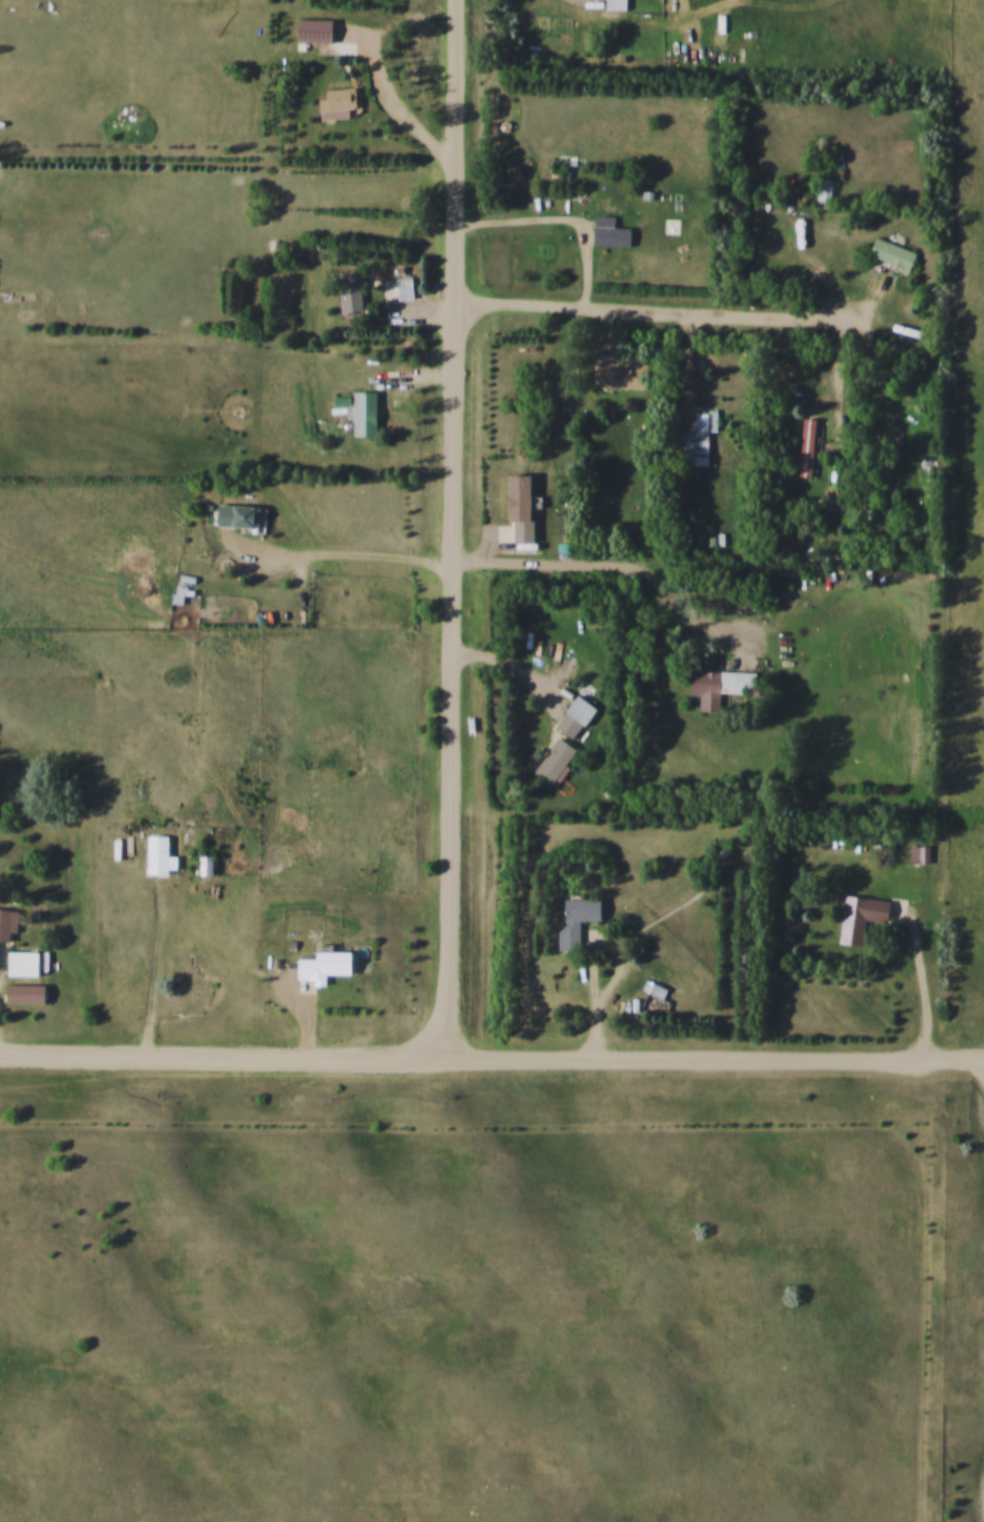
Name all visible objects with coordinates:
building: (614, 4)
building: (312, 31)
building: (335, 104)
road: (404, 105)
building: (824, 191)
building: (608, 232)
building: (890, 253)
building: (403, 287)
building: (348, 296)
road: (424, 305)
road: (666, 308)
building: (619, 374)
building: (363, 414)
building: (695, 440)
building: (808, 447)
building: (867, 494)
building: (516, 510)
building: (236, 517)
building: (908, 525)
road: (456, 530)
road: (352, 550)
road: (558, 565)
road: (513, 665)
building: (718, 686)
building: (579, 710)
building: (554, 762)
building: (917, 854)
building: (157, 857)
building: (859, 917)
building: (574, 921)
building: (10, 923)
building: (27, 963)
building: (323, 965)
road: (928, 977)
road: (157, 980)
building: (655, 991)
road: (613, 992)
building: (29, 993)
road: (979, 1052)
road: (979, 1056)
road: (487, 1059)
road: (979, 1063)

